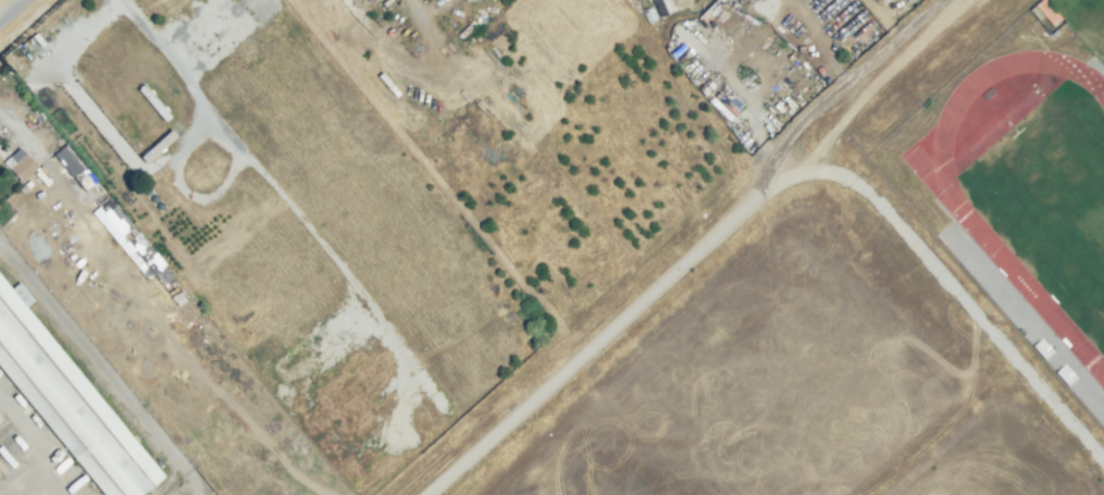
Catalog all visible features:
building: (448, 0)
road: (10, 9)
building: (1046, 12)
building: (1035, 13)
building: (24, 49)
road: (883, 77)
road: (840, 85)
building: (157, 146)
building: (0, 158)
building: (70, 163)
building: (22, 168)
road: (266, 180)
road: (774, 183)
park: (1055, 193)
building: (153, 198)
building: (159, 205)
building: (121, 223)
building: (147, 257)
track: (1022, 282)
road: (1025, 323)
road: (90, 355)
building: (69, 401)

